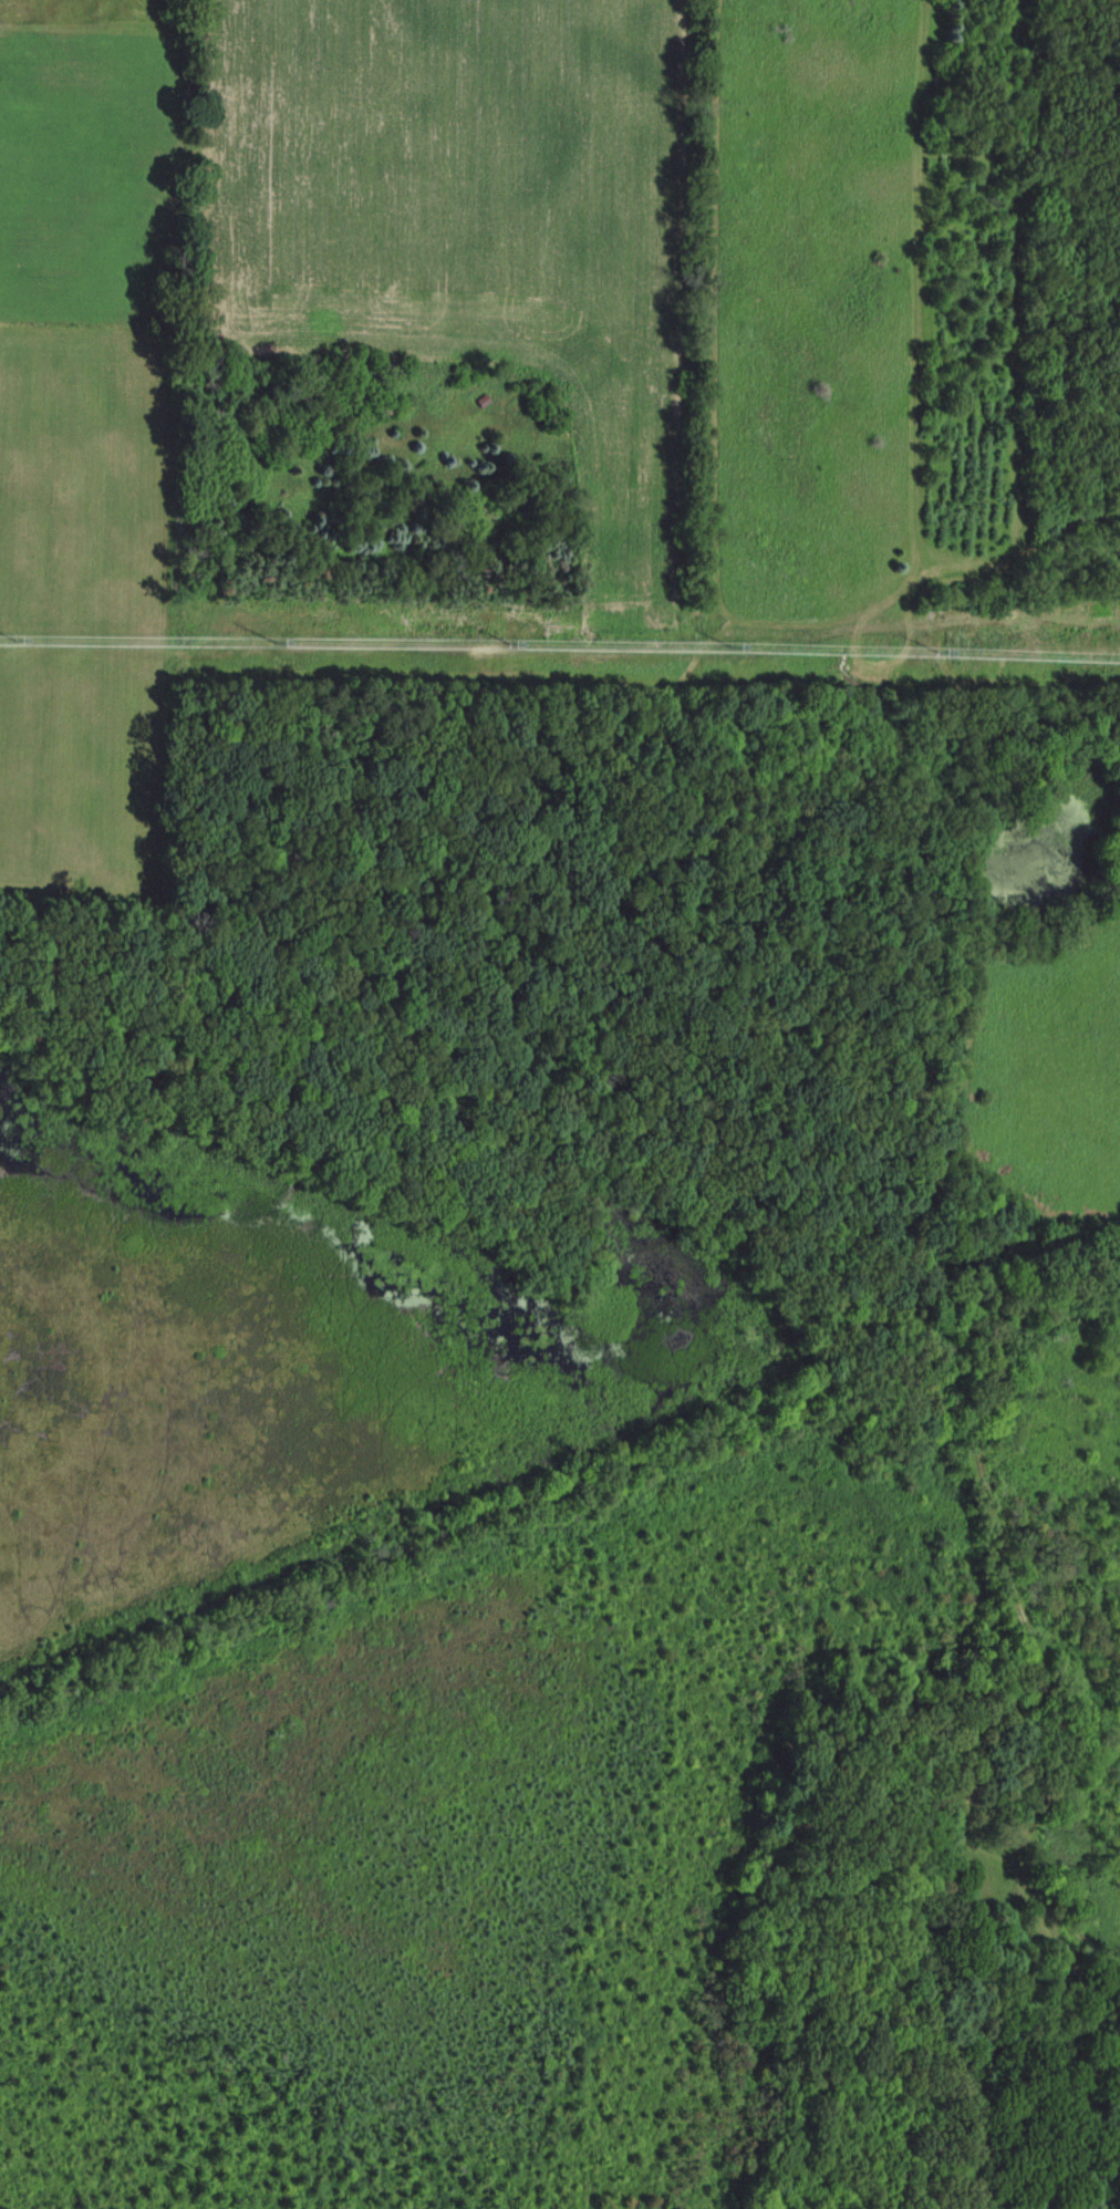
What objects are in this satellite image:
road: (984, 1479)
road: (1033, 1887)

